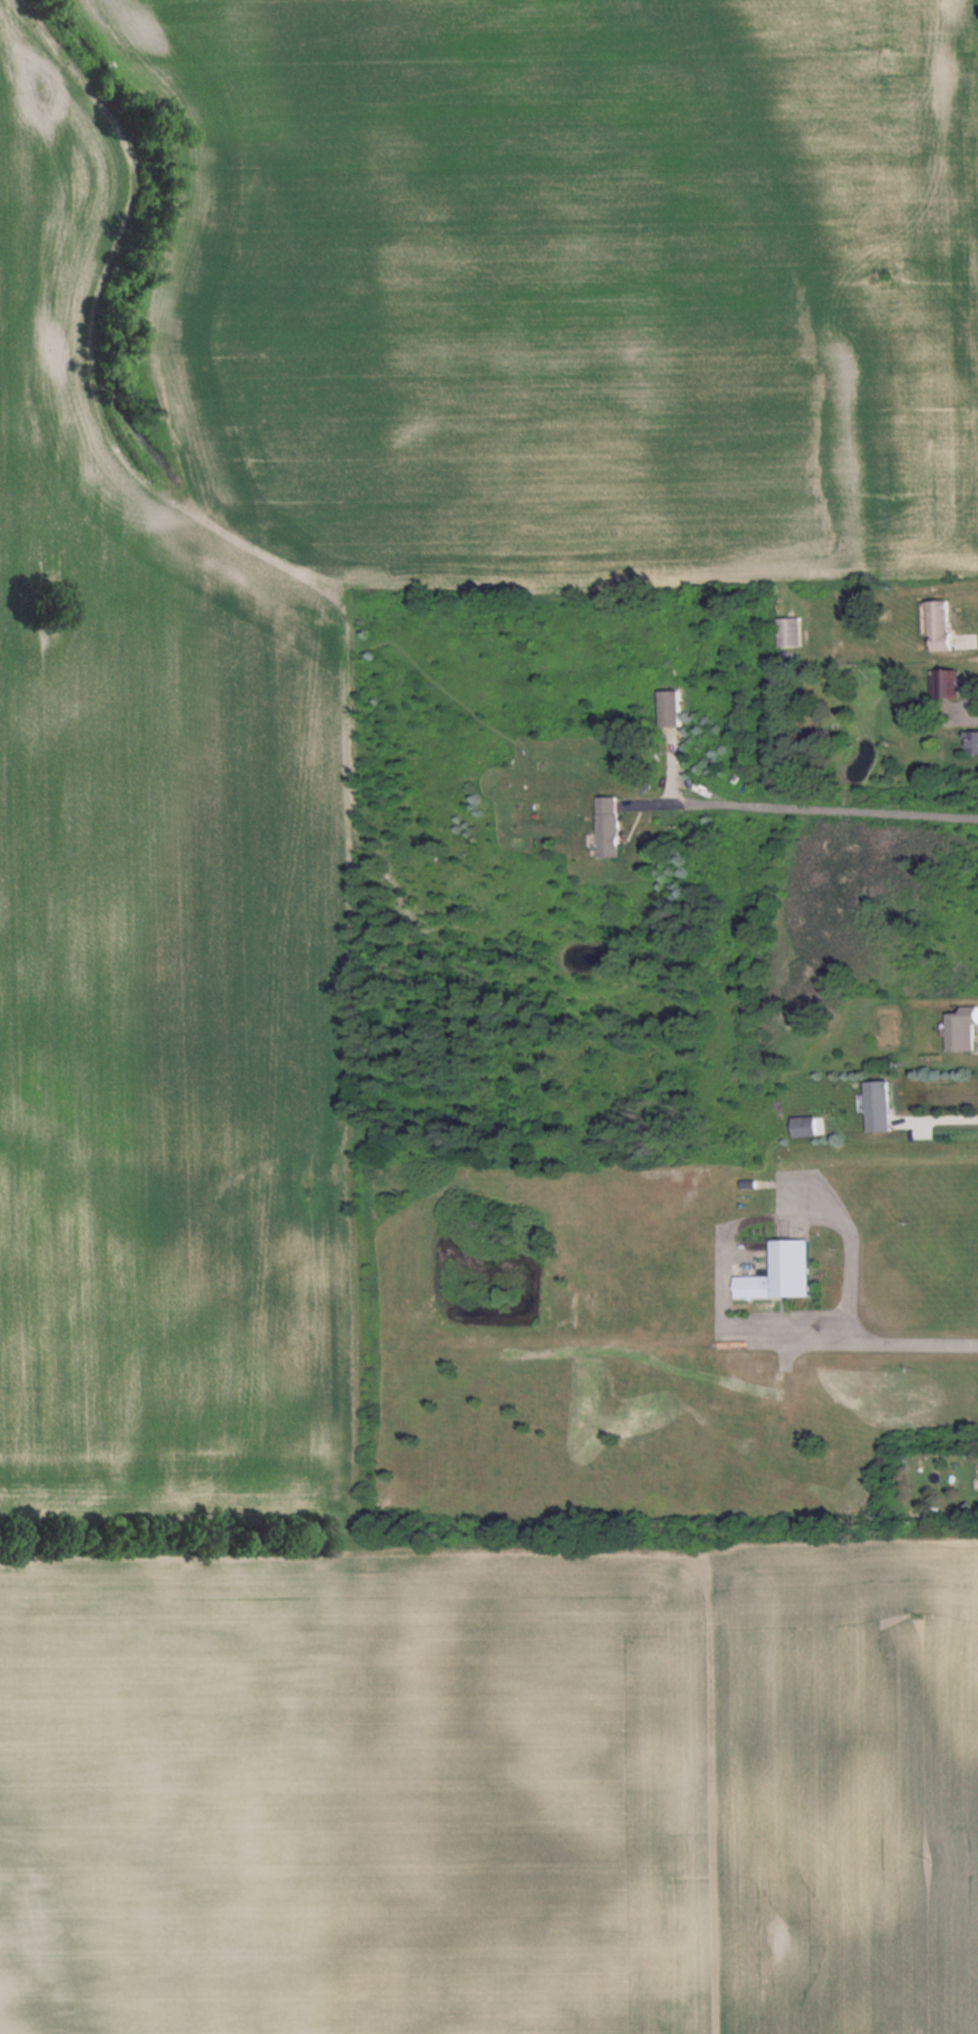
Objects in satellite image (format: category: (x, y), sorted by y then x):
building: (937, 624)
building: (787, 631)
building: (944, 683)
building: (667, 708)
building: (973, 743)
road: (809, 808)
building: (605, 824)
building: (959, 1030)
building: (877, 1104)
road: (939, 1118)
building: (802, 1125)
building: (779, 1271)
road: (884, 1334)

